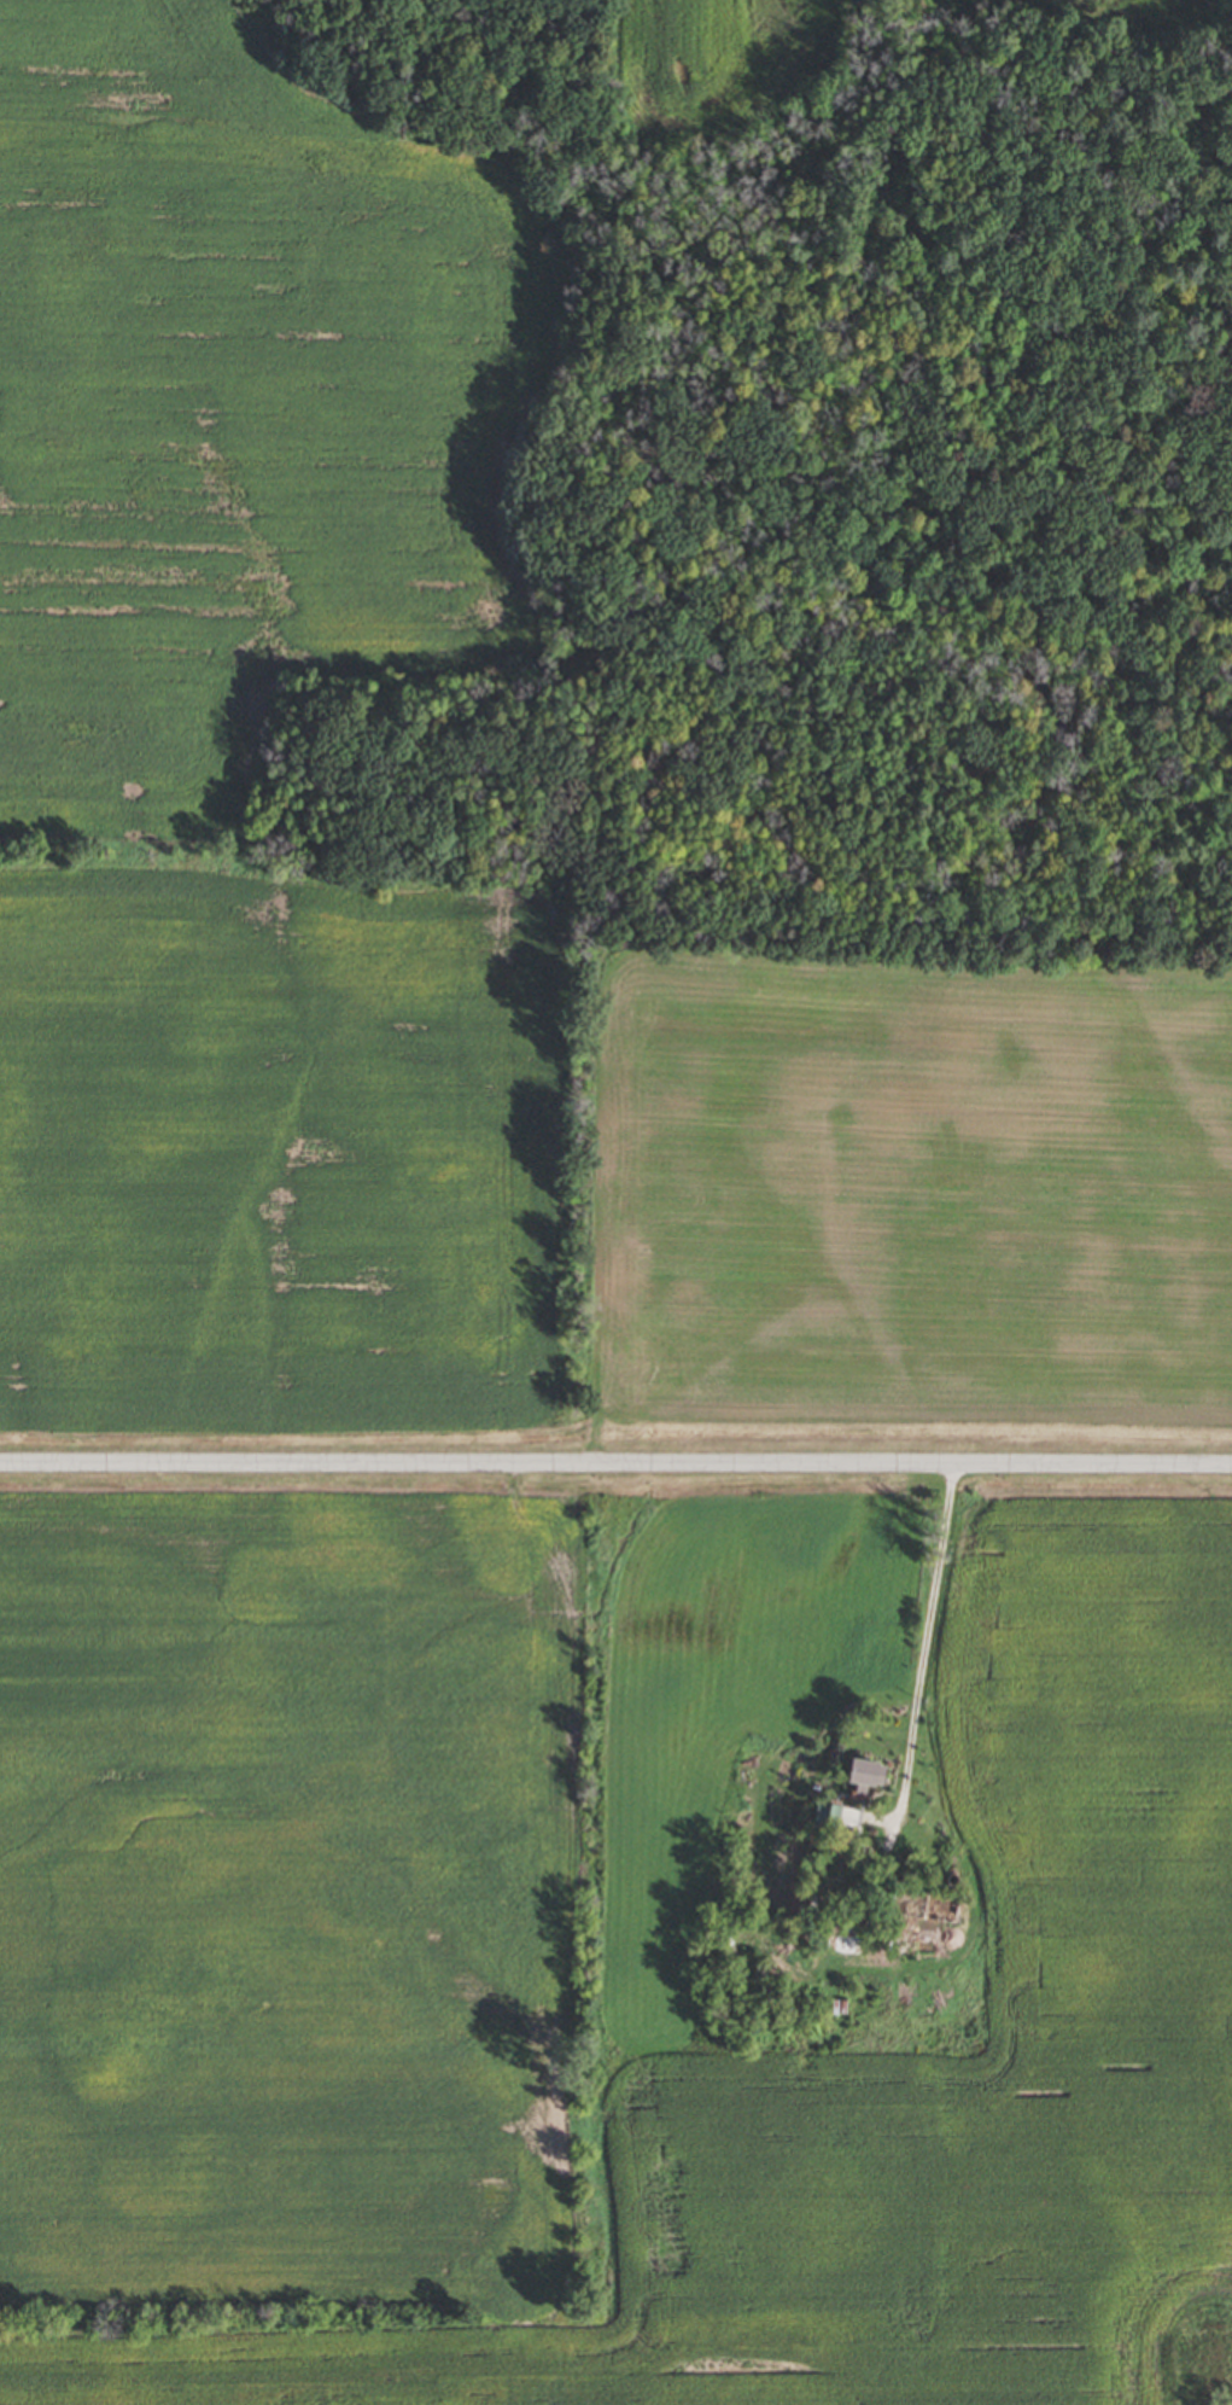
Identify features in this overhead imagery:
road: (615, 1473)
road: (906, 1666)
building: (872, 1772)
building: (799, 1898)

